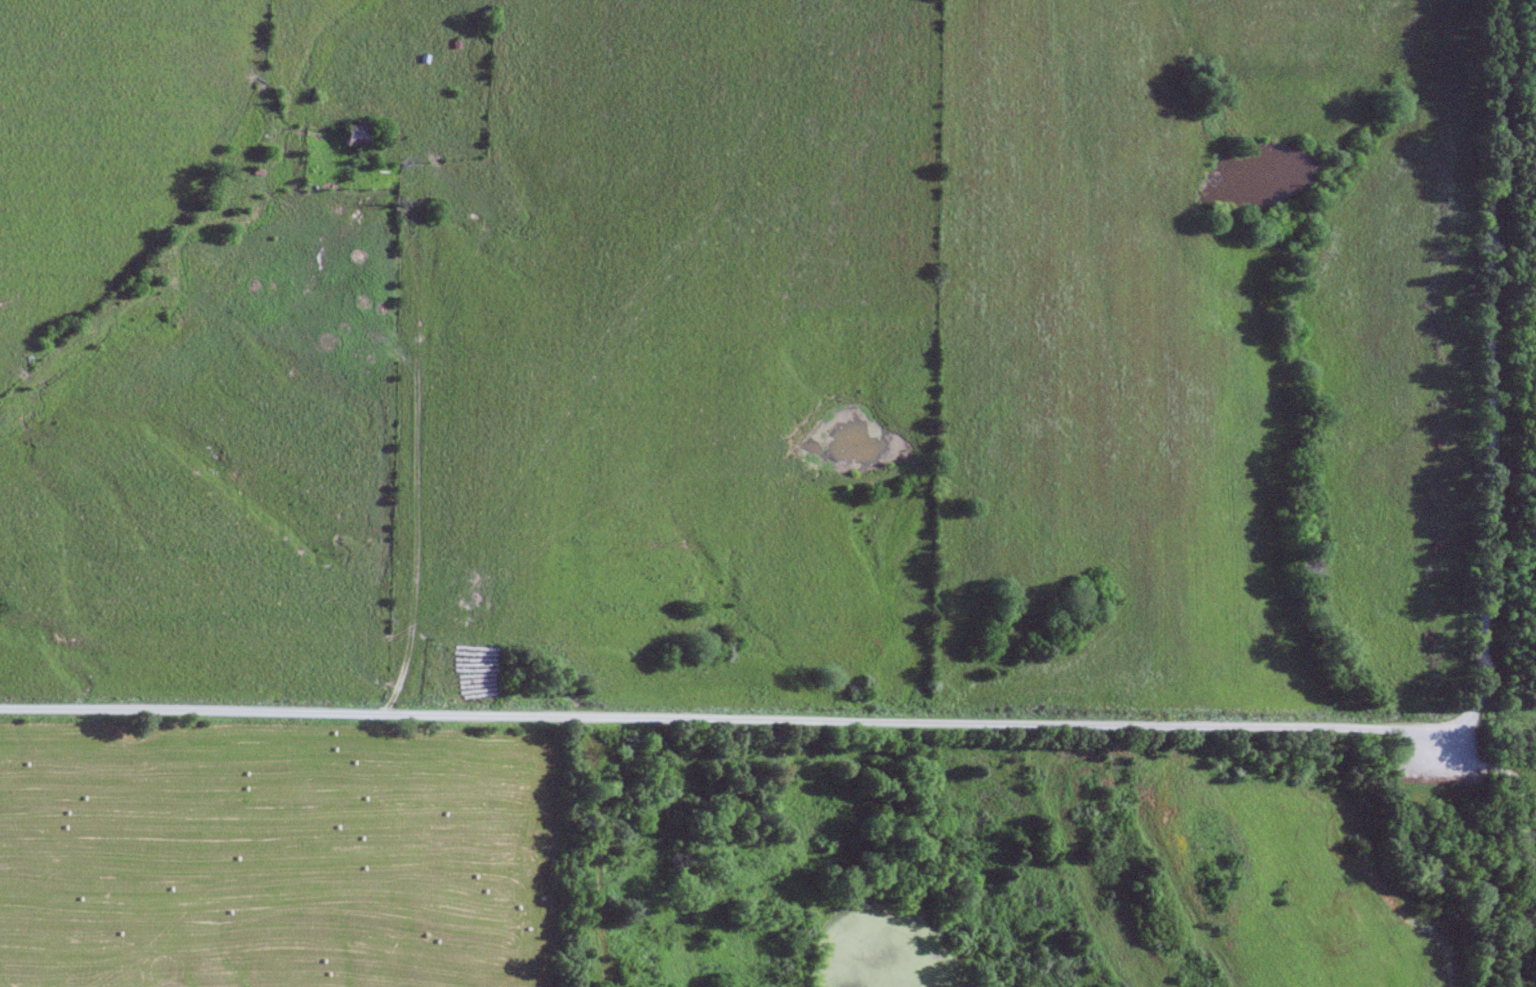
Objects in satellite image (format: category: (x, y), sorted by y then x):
building: (357, 136)
road: (1098, 724)

